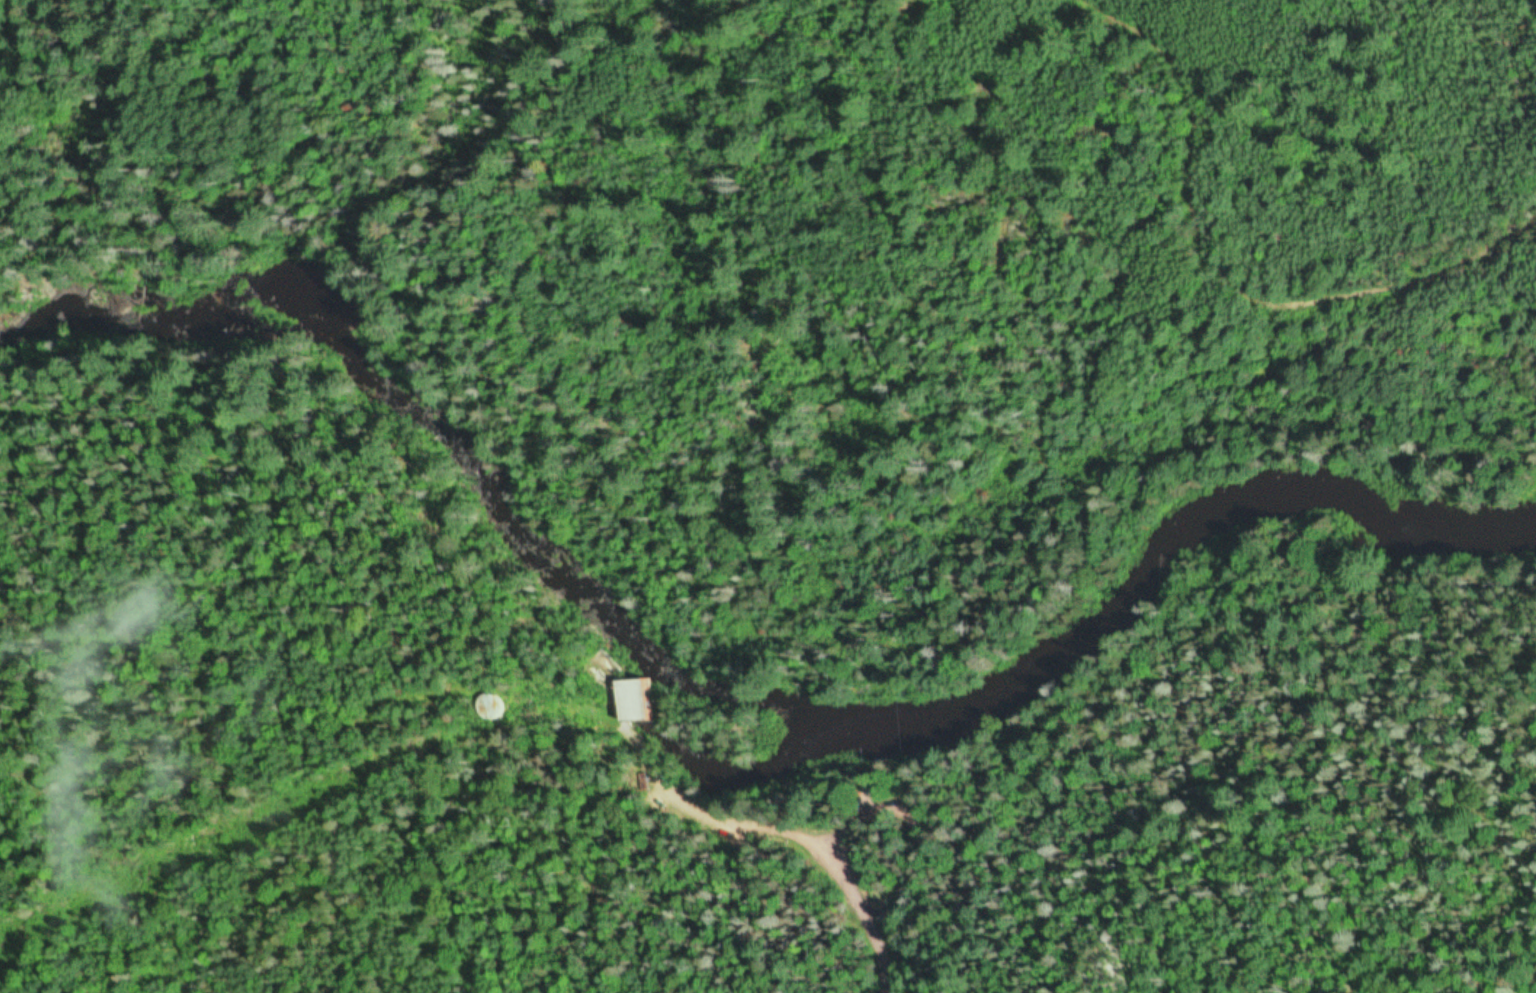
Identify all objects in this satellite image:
road: (1227, 253)
building: (630, 697)
building: (489, 705)
river: (726, 739)
road: (836, 863)

